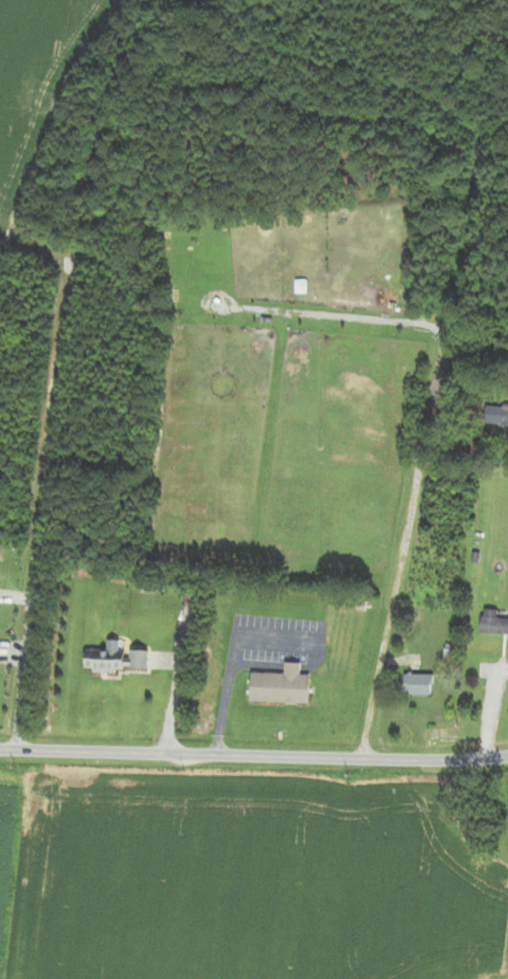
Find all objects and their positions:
building: (456, 353)
building: (496, 416)
road: (43, 503)
road: (399, 581)
building: (492, 623)
road: (277, 636)
road: (234, 647)
road: (315, 659)
building: (110, 660)
road: (291, 667)
road: (227, 682)
building: (280, 684)
building: (417, 684)
road: (254, 755)

